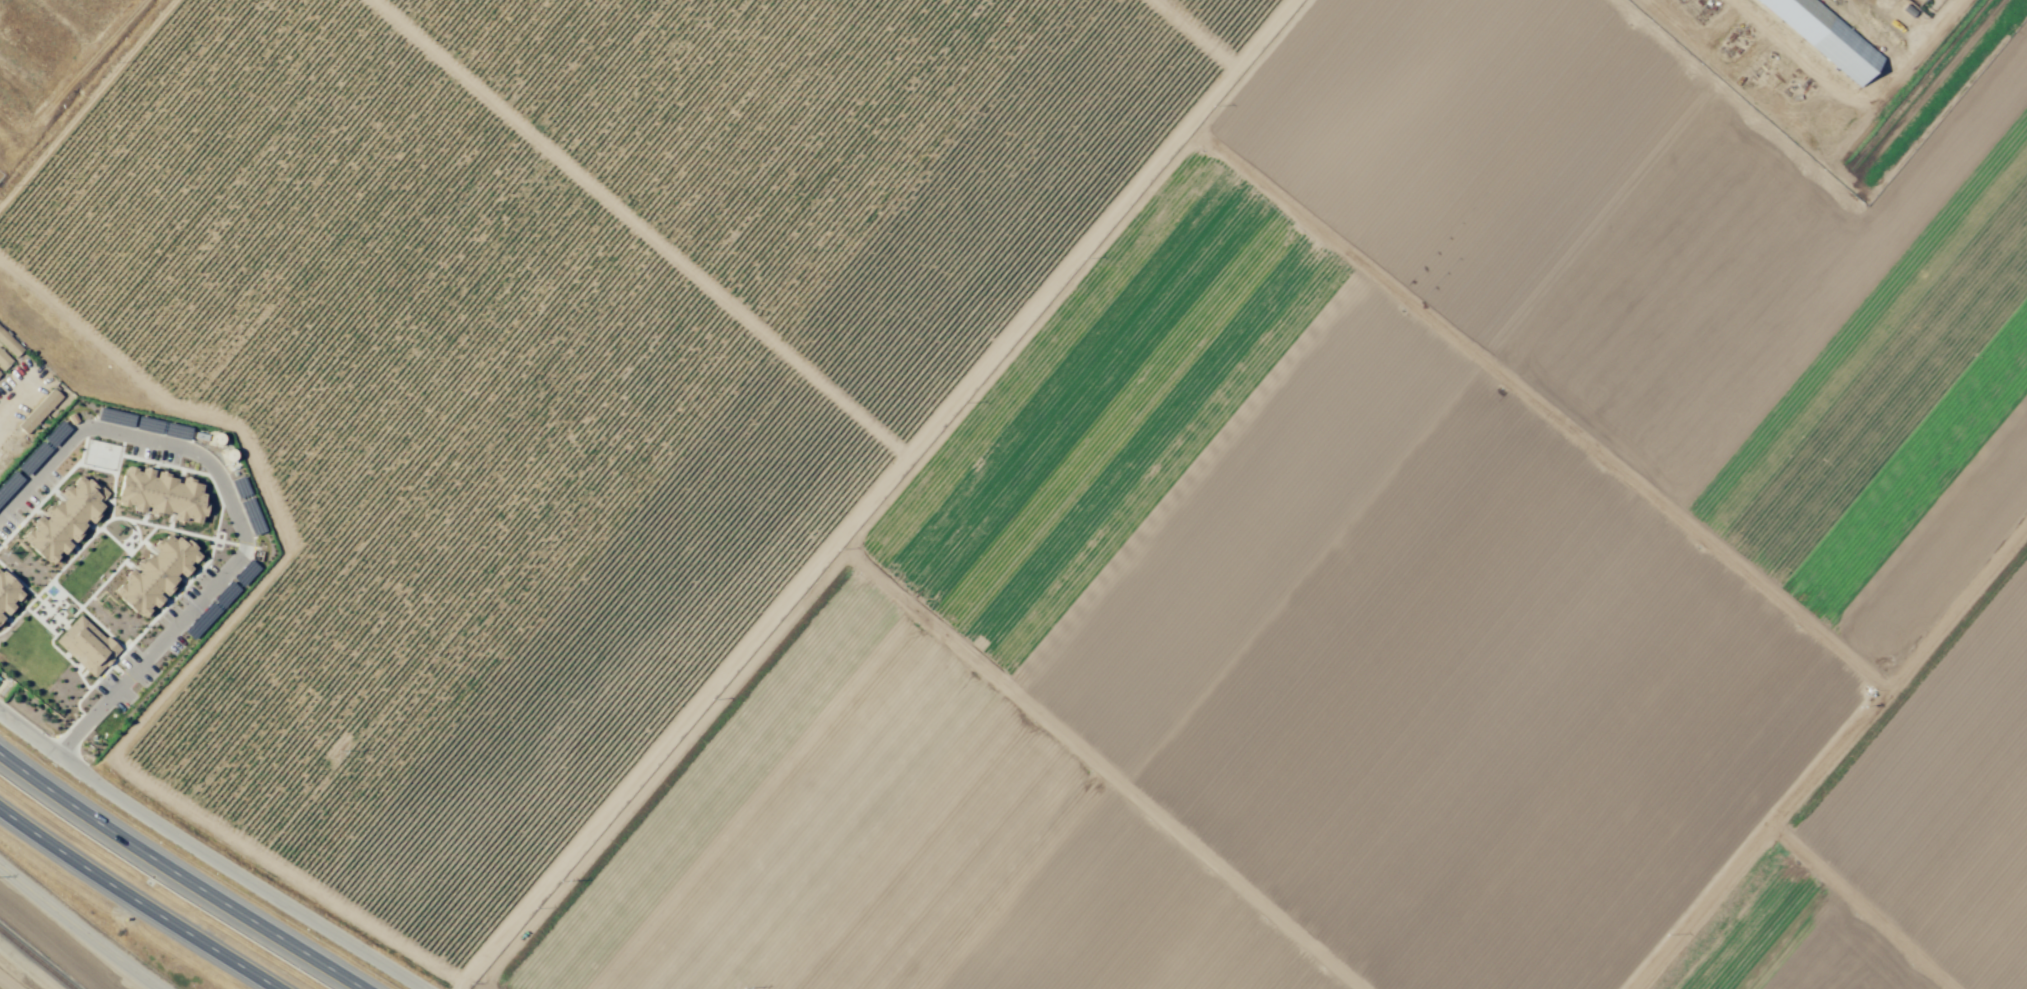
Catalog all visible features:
building: (1923, 1)
wastewater plant: (69, 8)
road: (1199, 34)
building: (1826, 37)
wastewater plant: (27, 40)
road: (69, 78)
road: (86, 101)
road: (643, 228)
building: (9, 345)
building: (4, 361)
building: (38, 413)
building: (96, 454)
building: (191, 458)
crop: (1089, 482)
road: (876, 493)
building: (56, 498)
road: (235, 514)
building: (225, 528)
building: (100, 545)
building: (203, 553)
building: (166, 591)
road: (205, 649)
road: (1828, 756)
road: (210, 853)
road: (179, 874)
road: (138, 900)
road: (79, 928)
road: (1199, 952)
railway: (34, 960)
crop: (8, 981)
crop: (8, 981)

